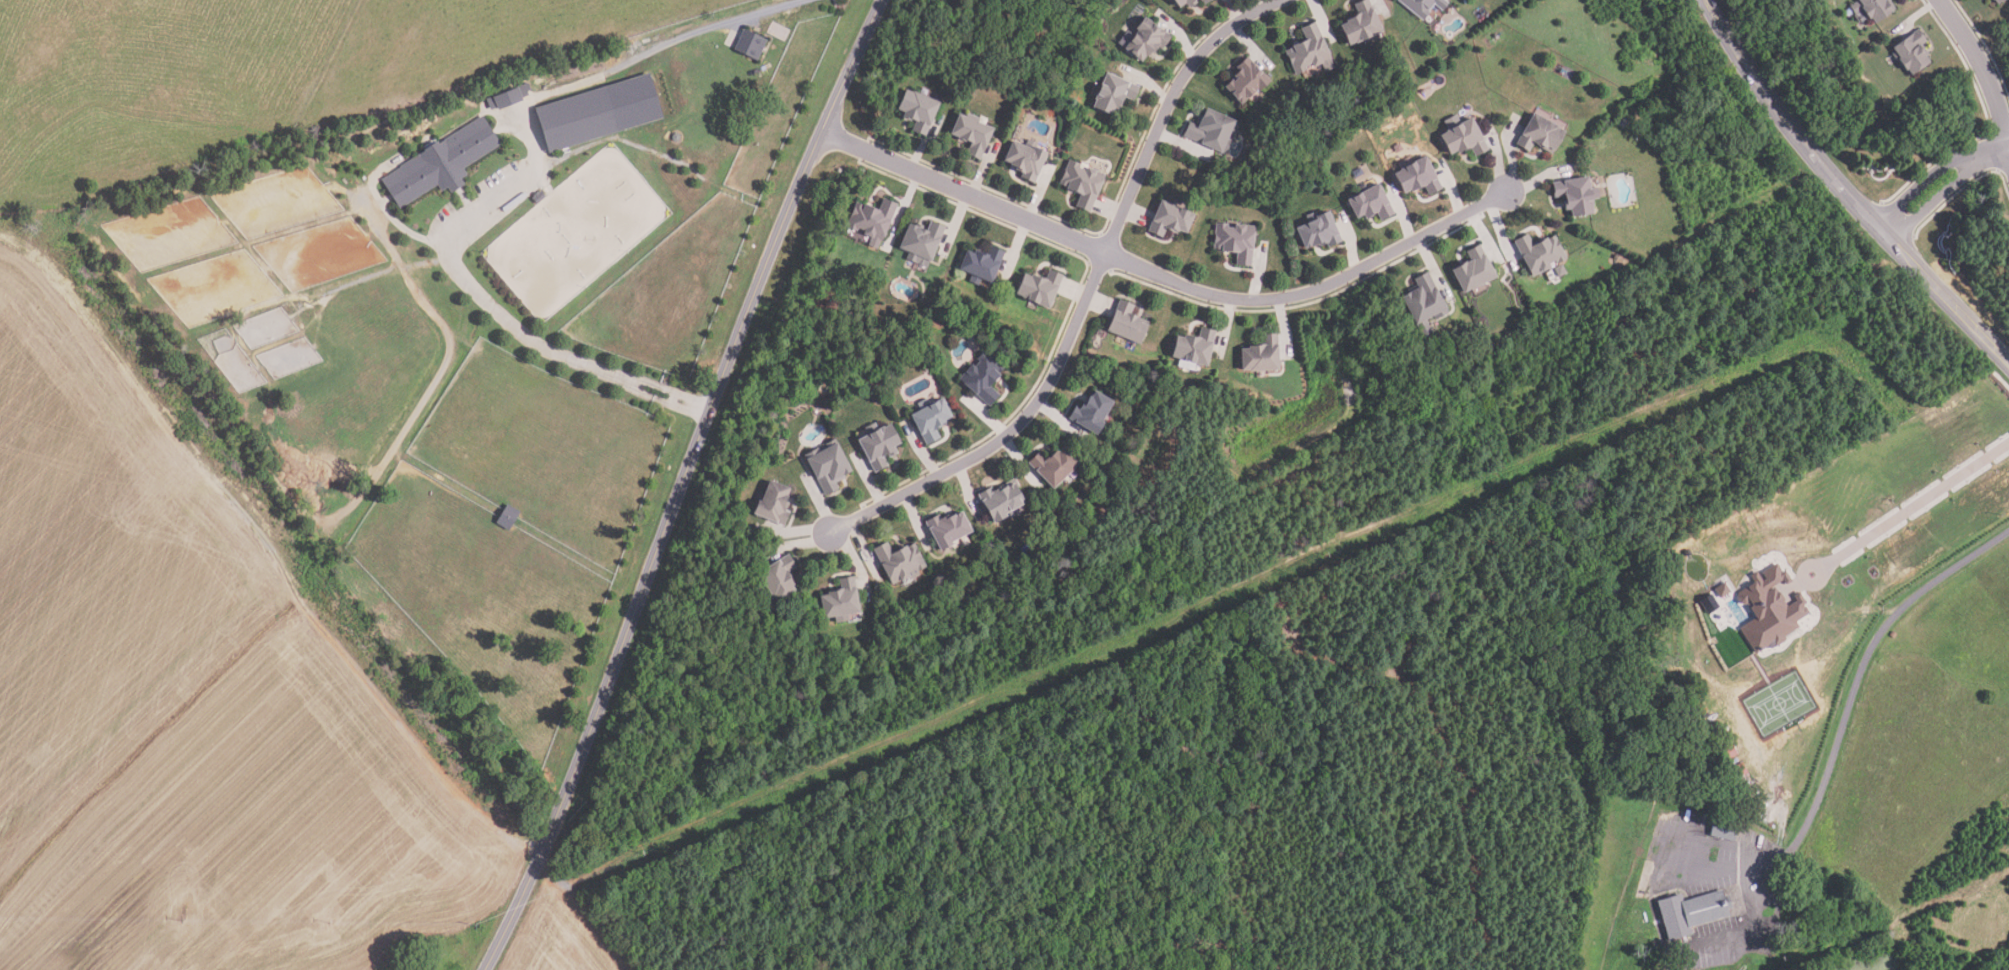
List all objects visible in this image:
building: (1203, 1)
building: (1997, 1)
building: (2004, 1)
building: (1182, 3)
building: (1422, 7)
building: (1872, 9)
building: (1360, 24)
building: (1142, 40)
building: (749, 45)
building: (1911, 51)
building: (1308, 52)
road: (1982, 68)
building: (1244, 81)
building: (1112, 94)
building: (507, 97)
building: (915, 111)
building: (597, 113)
building: (1623, 122)
building: (1210, 131)
building: (970, 135)
building: (1538, 135)
building: (1462, 139)
road: (1996, 152)
building: (1024, 160)
building: (440, 163)
building: (1357, 173)
building: (1417, 178)
road: (1922, 181)
building: (1080, 184)
road: (509, 191)
road: (1843, 193)
building: (1575, 195)
building: (539, 198)
road: (1936, 198)
building: (1369, 204)
building: (869, 220)
building: (1167, 220)
building: (1317, 233)
building: (1233, 242)
building: (919, 243)
building: (1538, 254)
building: (980, 265)
building: (1472, 271)
building: (1559, 271)
road: (1162, 278)
building: (1038, 289)
road: (1087, 295)
building: (1423, 303)
building: (1125, 324)
building: (1192, 348)
building: (1260, 356)
building: (981, 378)
building: (1089, 413)
building: (929, 422)
building: (876, 446)
building: (826, 467)
building: (1051, 468)
road: (680, 484)
building: (998, 504)
building: (771, 505)
road: (1911, 507)
building: (505, 518)
building: (945, 529)
building: (897, 562)
building: (775, 580)
building: (1721, 589)
building: (839, 602)
building: (1769, 610)
road: (1838, 736)
building: (1729, 752)
building: (1738, 770)
building: (1702, 819)
building: (1723, 829)
river: (121, 911)
building: (1690, 911)
building: (1654, 944)
river: (1901, 966)

